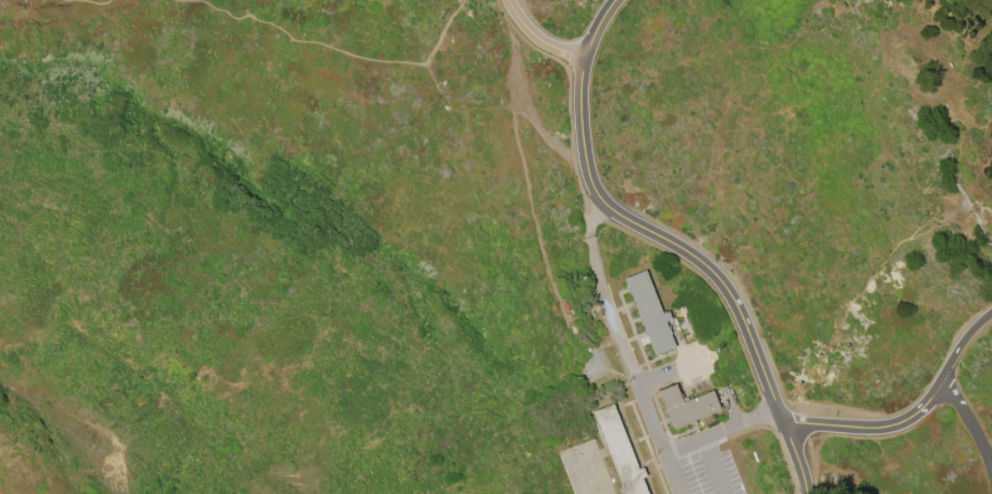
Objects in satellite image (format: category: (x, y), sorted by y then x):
road: (86, 0)
road: (547, 12)
road: (598, 27)
road: (541, 37)
road: (332, 47)
road: (529, 116)
road: (699, 256)
road: (602, 293)
building: (652, 316)
road: (960, 338)
road: (675, 376)
building: (687, 406)
road: (651, 421)
road: (970, 424)
road: (877, 428)
road: (721, 430)
building: (620, 452)
road: (717, 465)
parking lot: (700, 466)
park: (586, 471)
road: (671, 473)
road: (0, 493)

